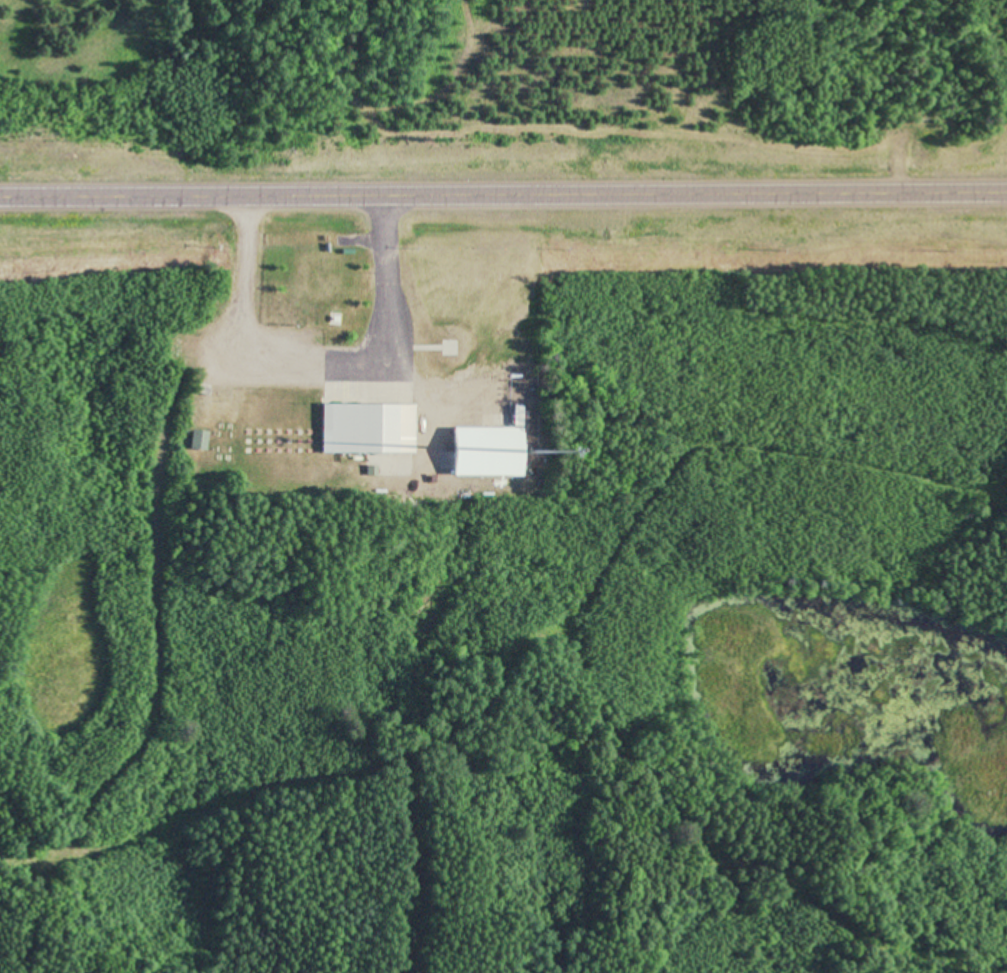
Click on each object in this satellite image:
road: (503, 194)
building: (369, 429)
building: (200, 441)
building: (489, 452)

